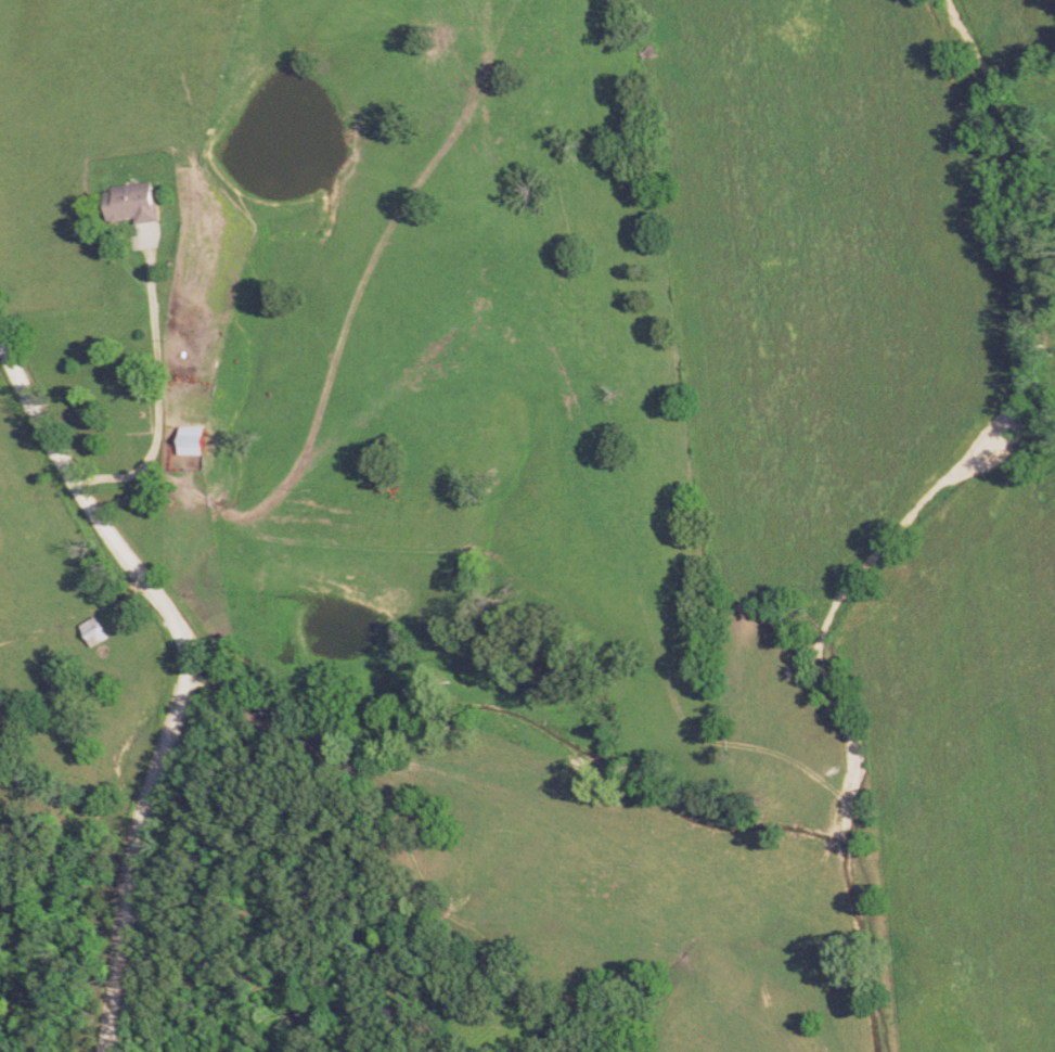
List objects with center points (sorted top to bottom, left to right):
building: (139, 203)
building: (196, 441)
building: (98, 631)
road: (191, 668)

